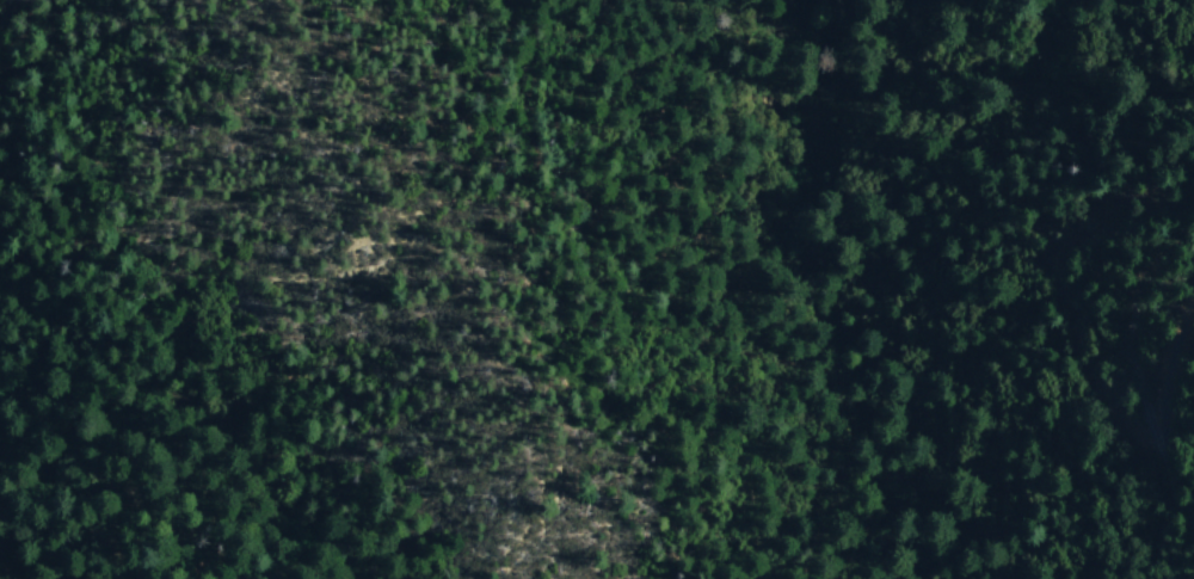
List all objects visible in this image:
road: (1137, 375)

